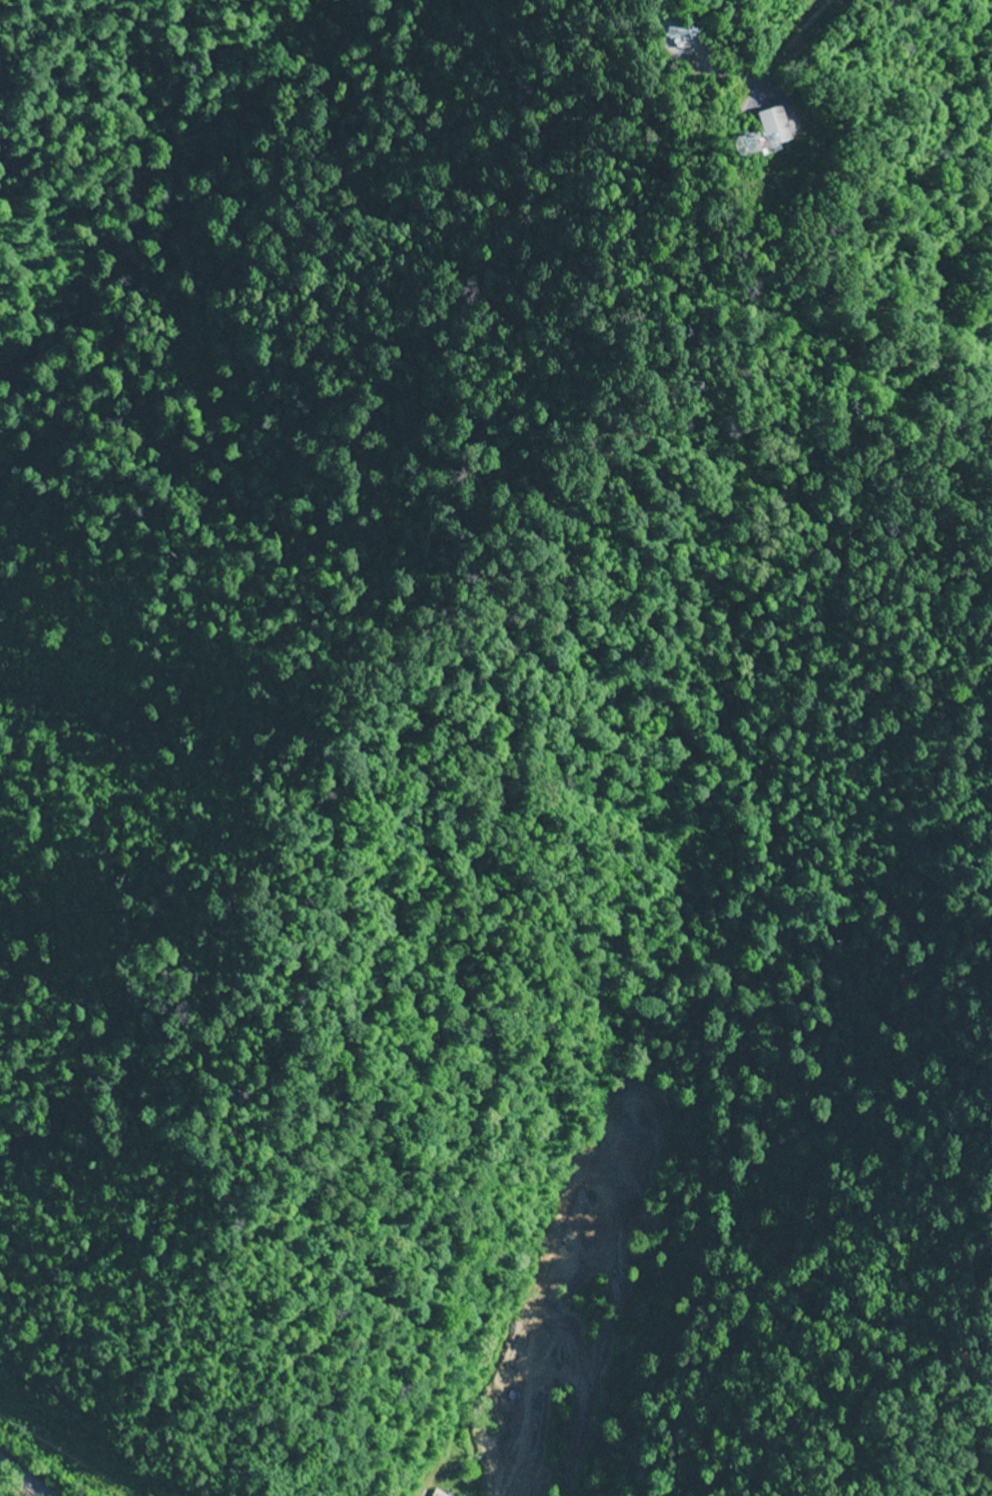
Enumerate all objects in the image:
building: (772, 131)
road: (18, 1480)
building: (443, 1492)

